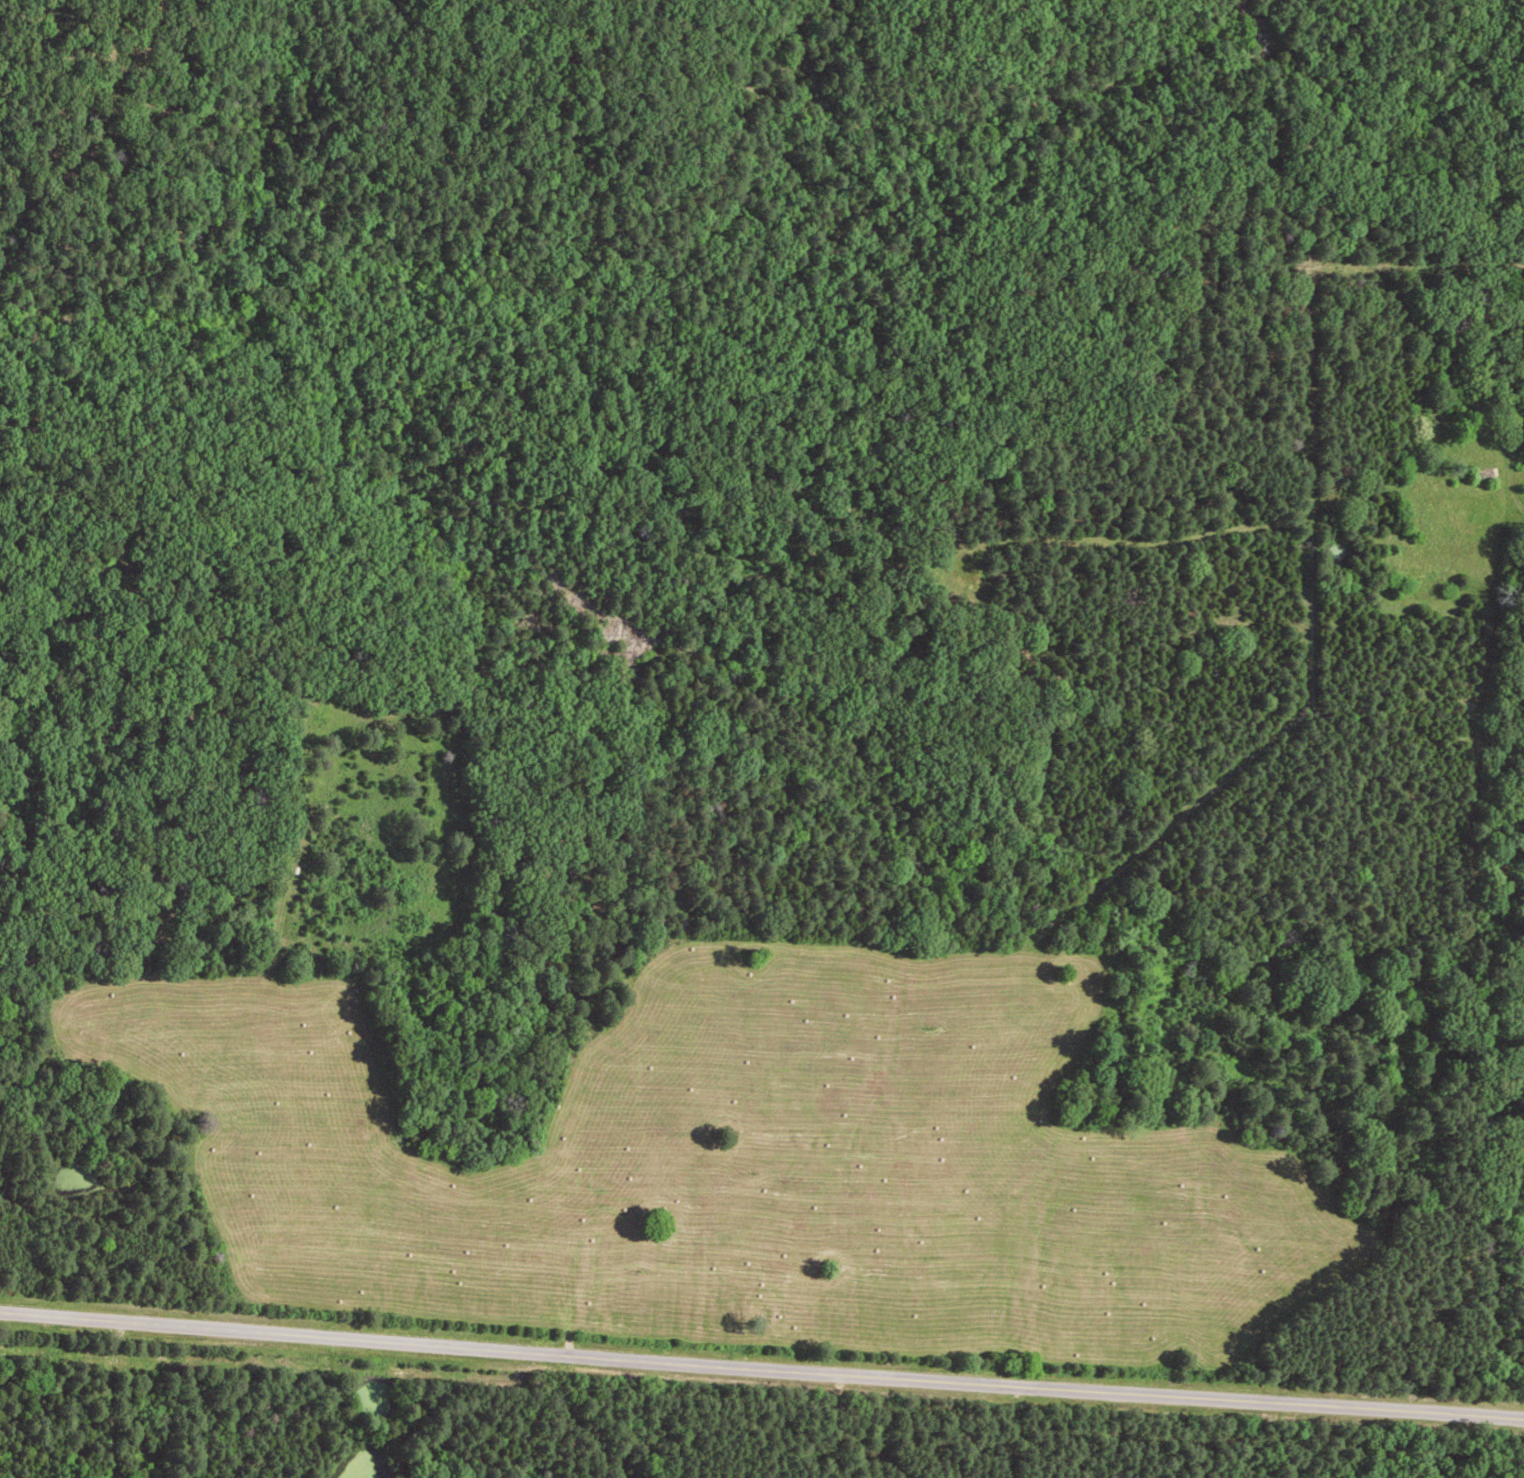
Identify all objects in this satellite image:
road: (1521, 469)
road: (761, 1372)

